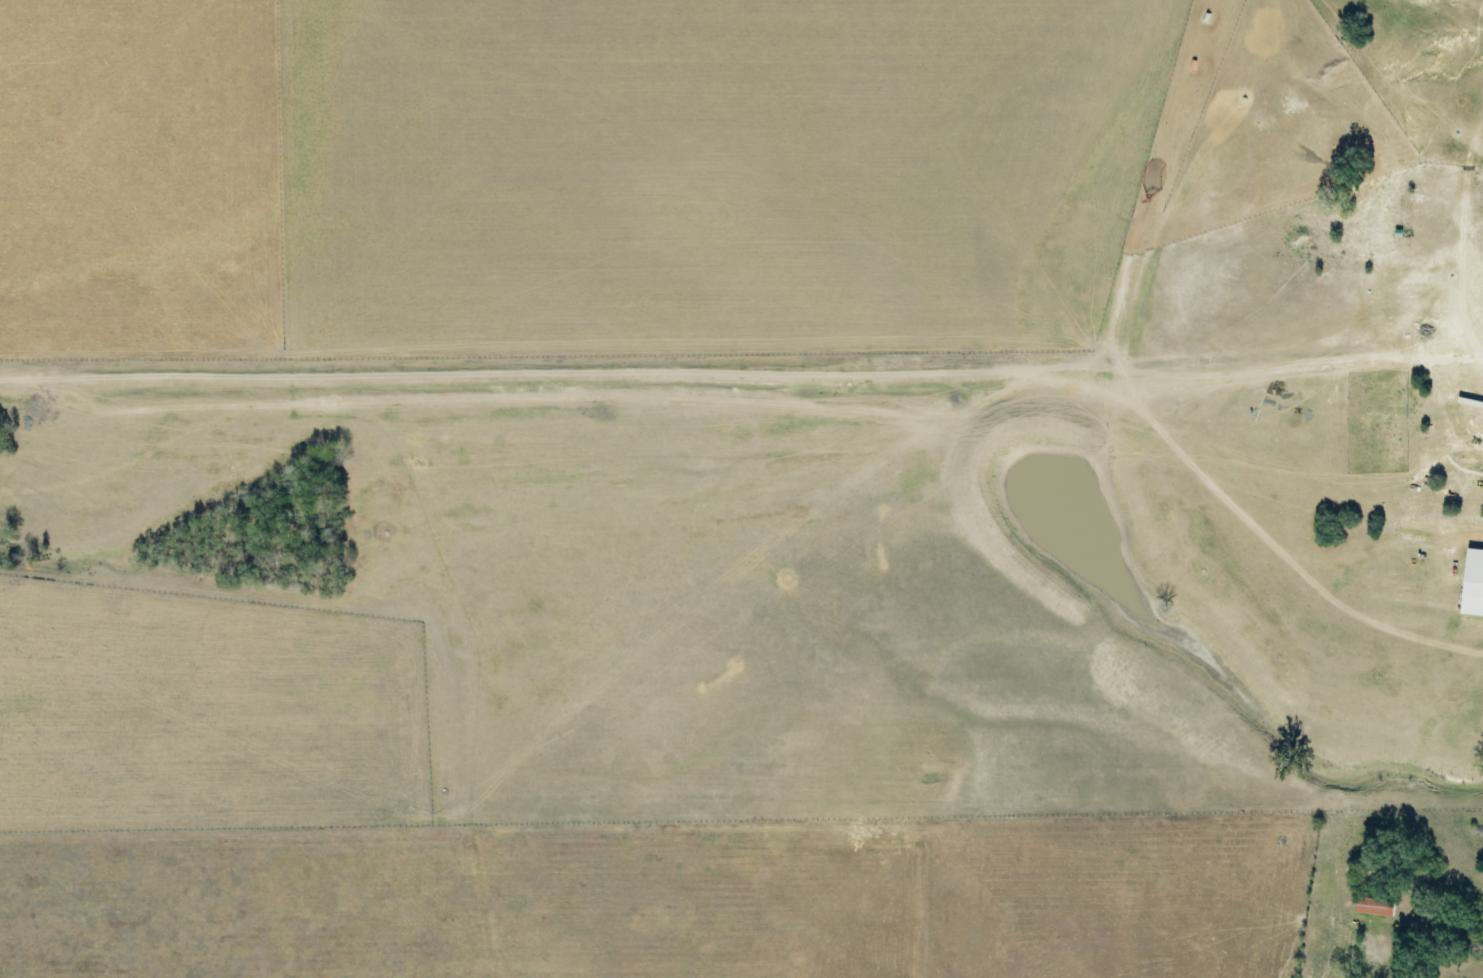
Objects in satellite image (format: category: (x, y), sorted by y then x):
building: (1474, 584)
building: (1376, 907)

